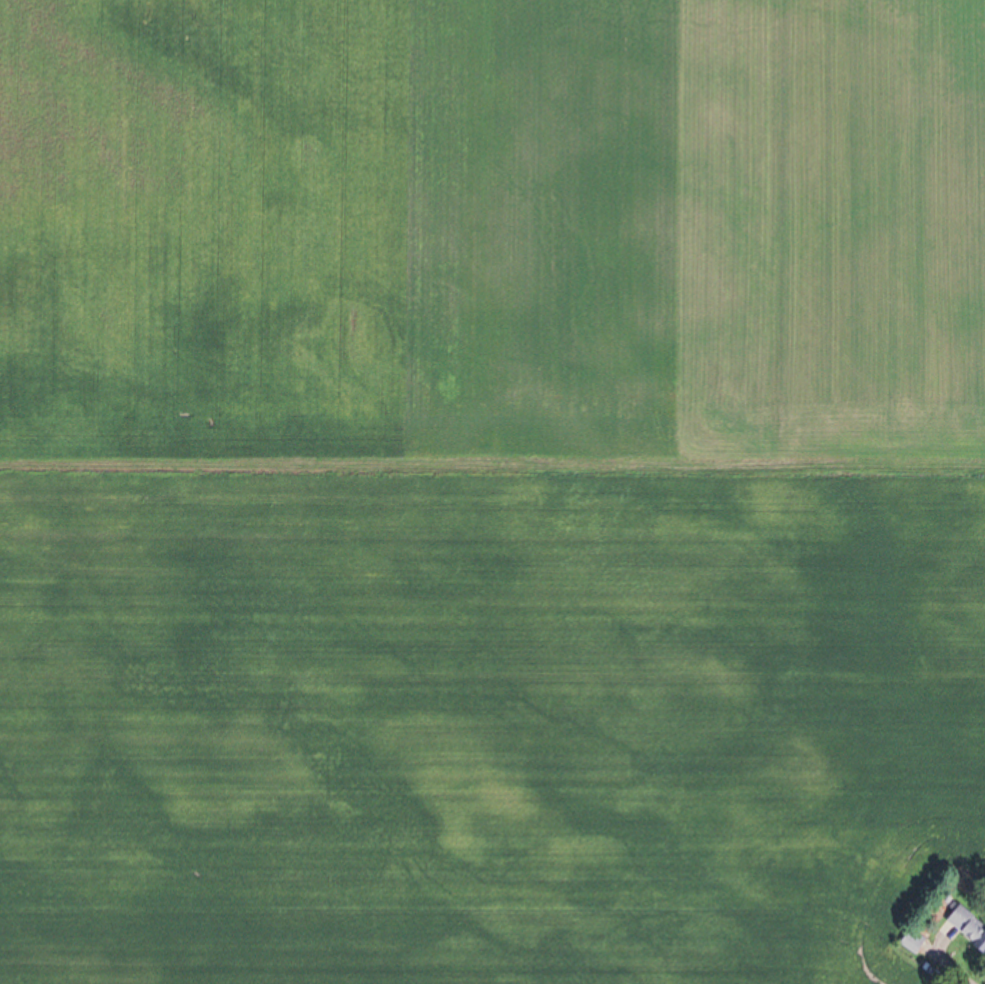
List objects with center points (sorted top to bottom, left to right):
building: (966, 928)
building: (910, 942)

